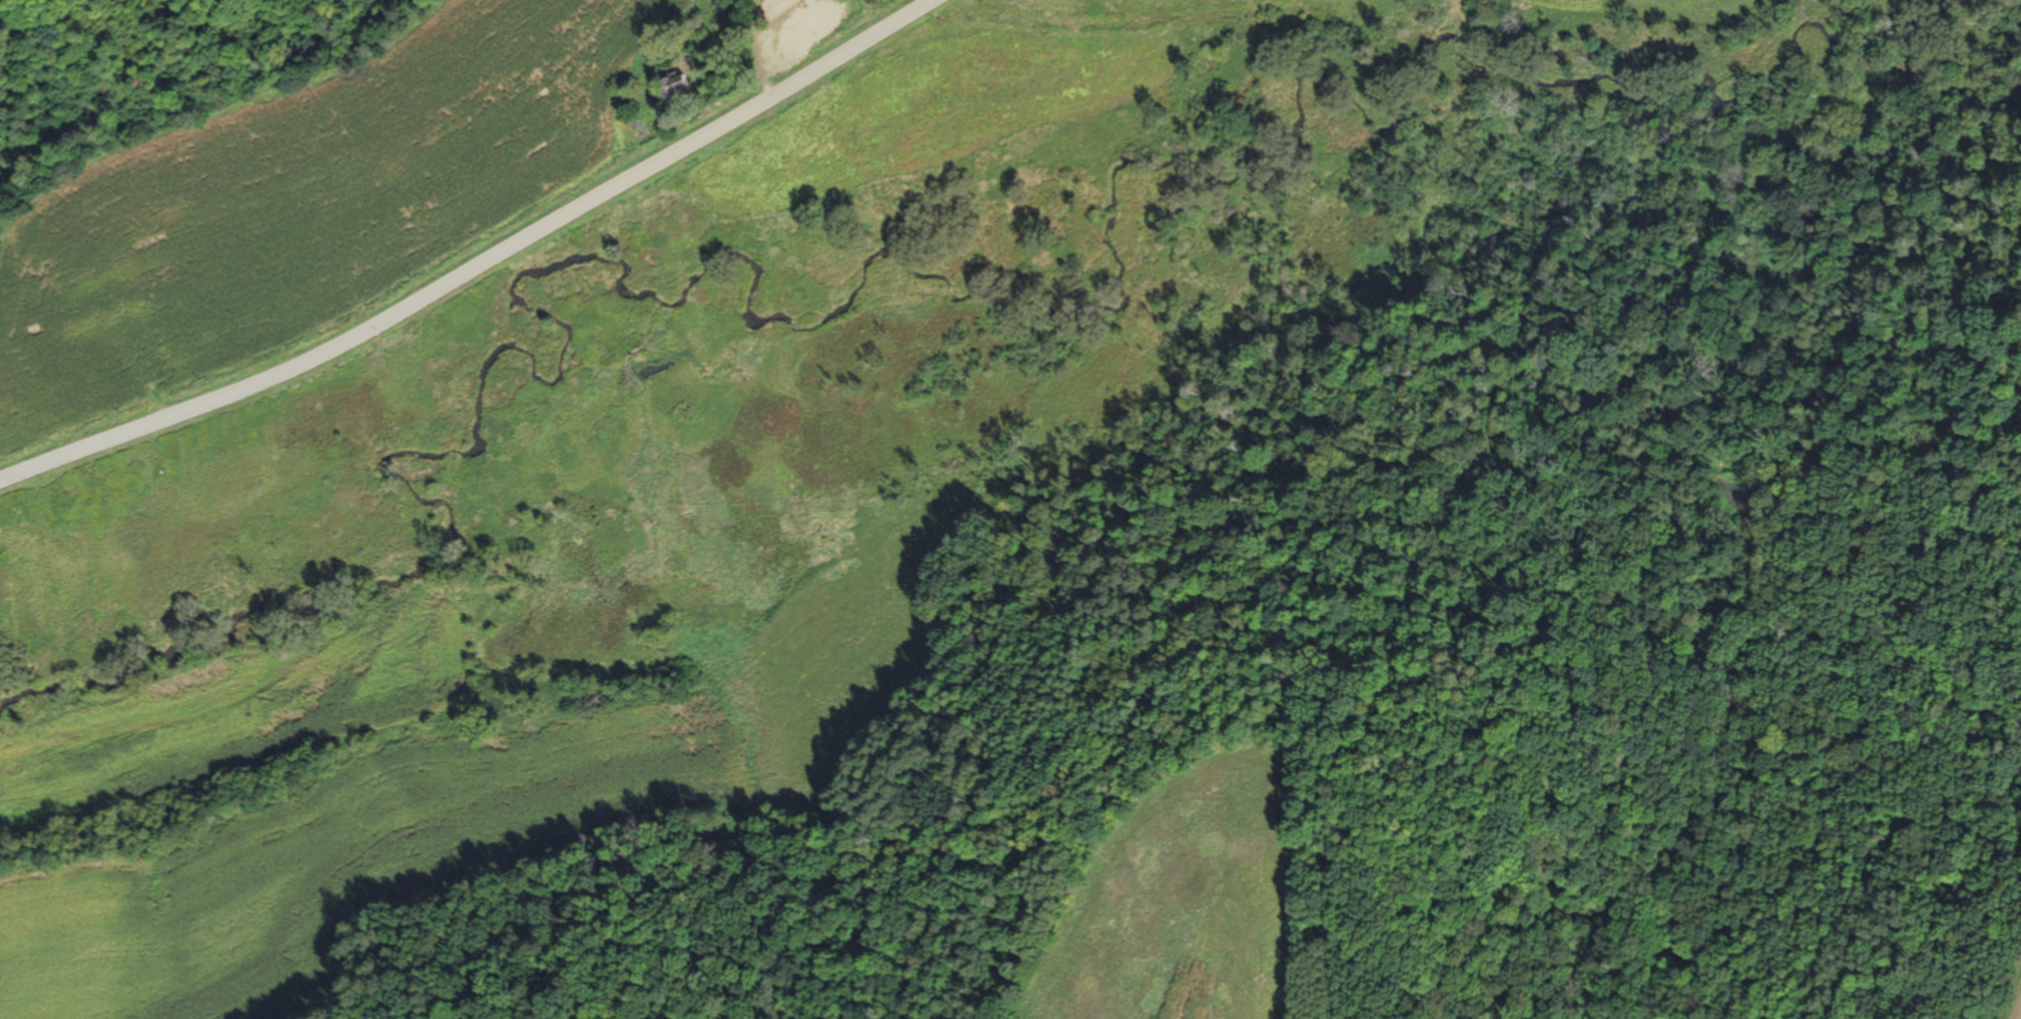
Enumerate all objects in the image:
building: (784, 62)
quarry: (17, 65)
building: (674, 85)
road: (482, 266)

